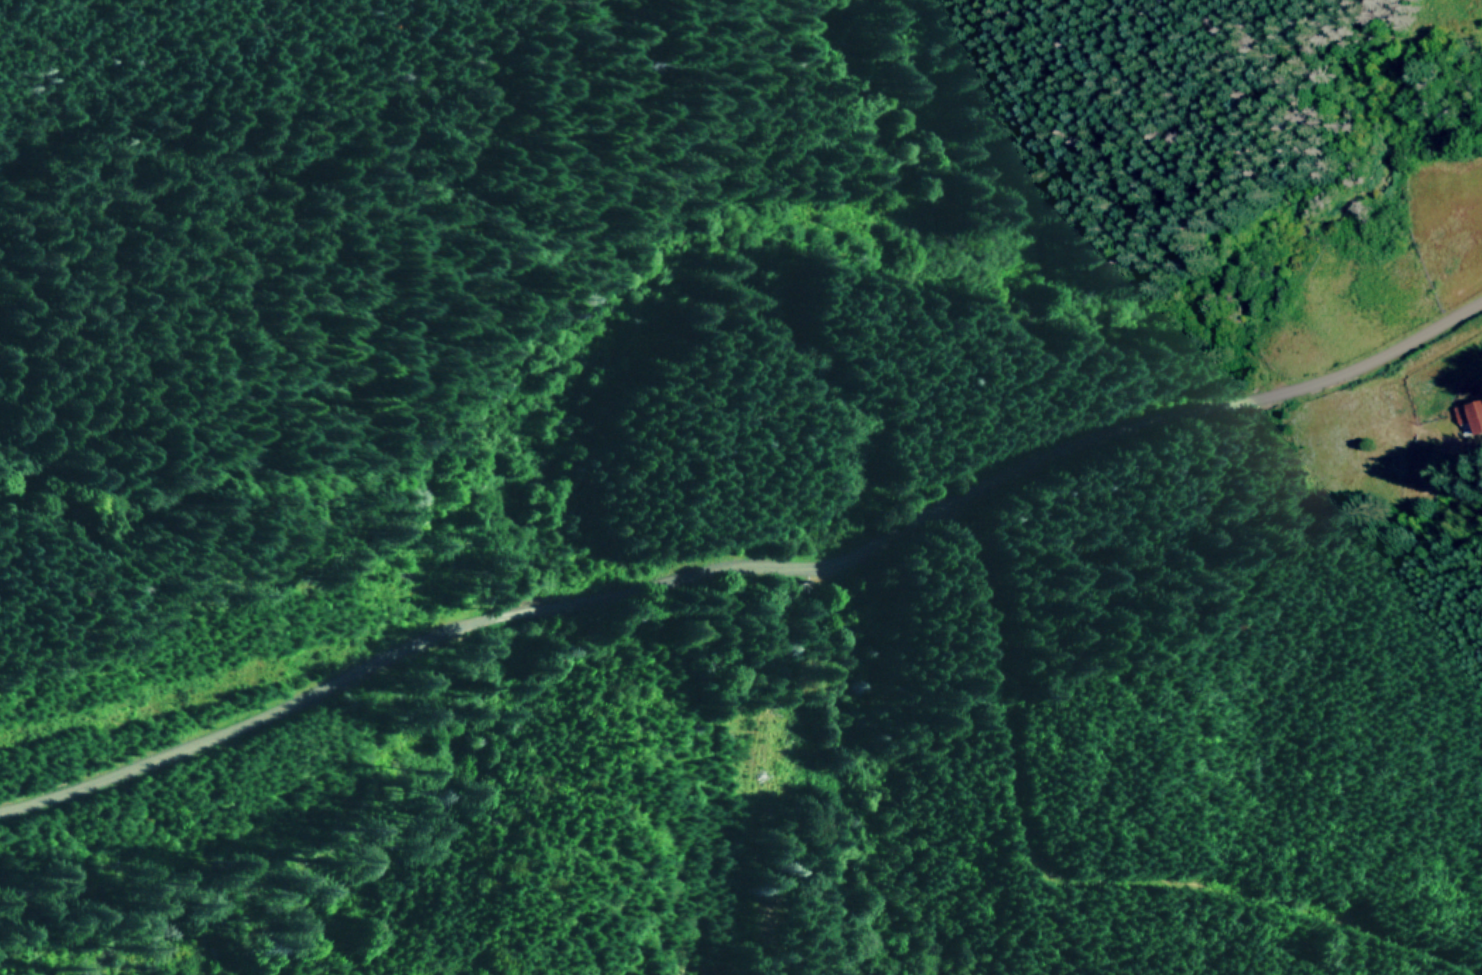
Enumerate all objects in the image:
road: (747, 566)

